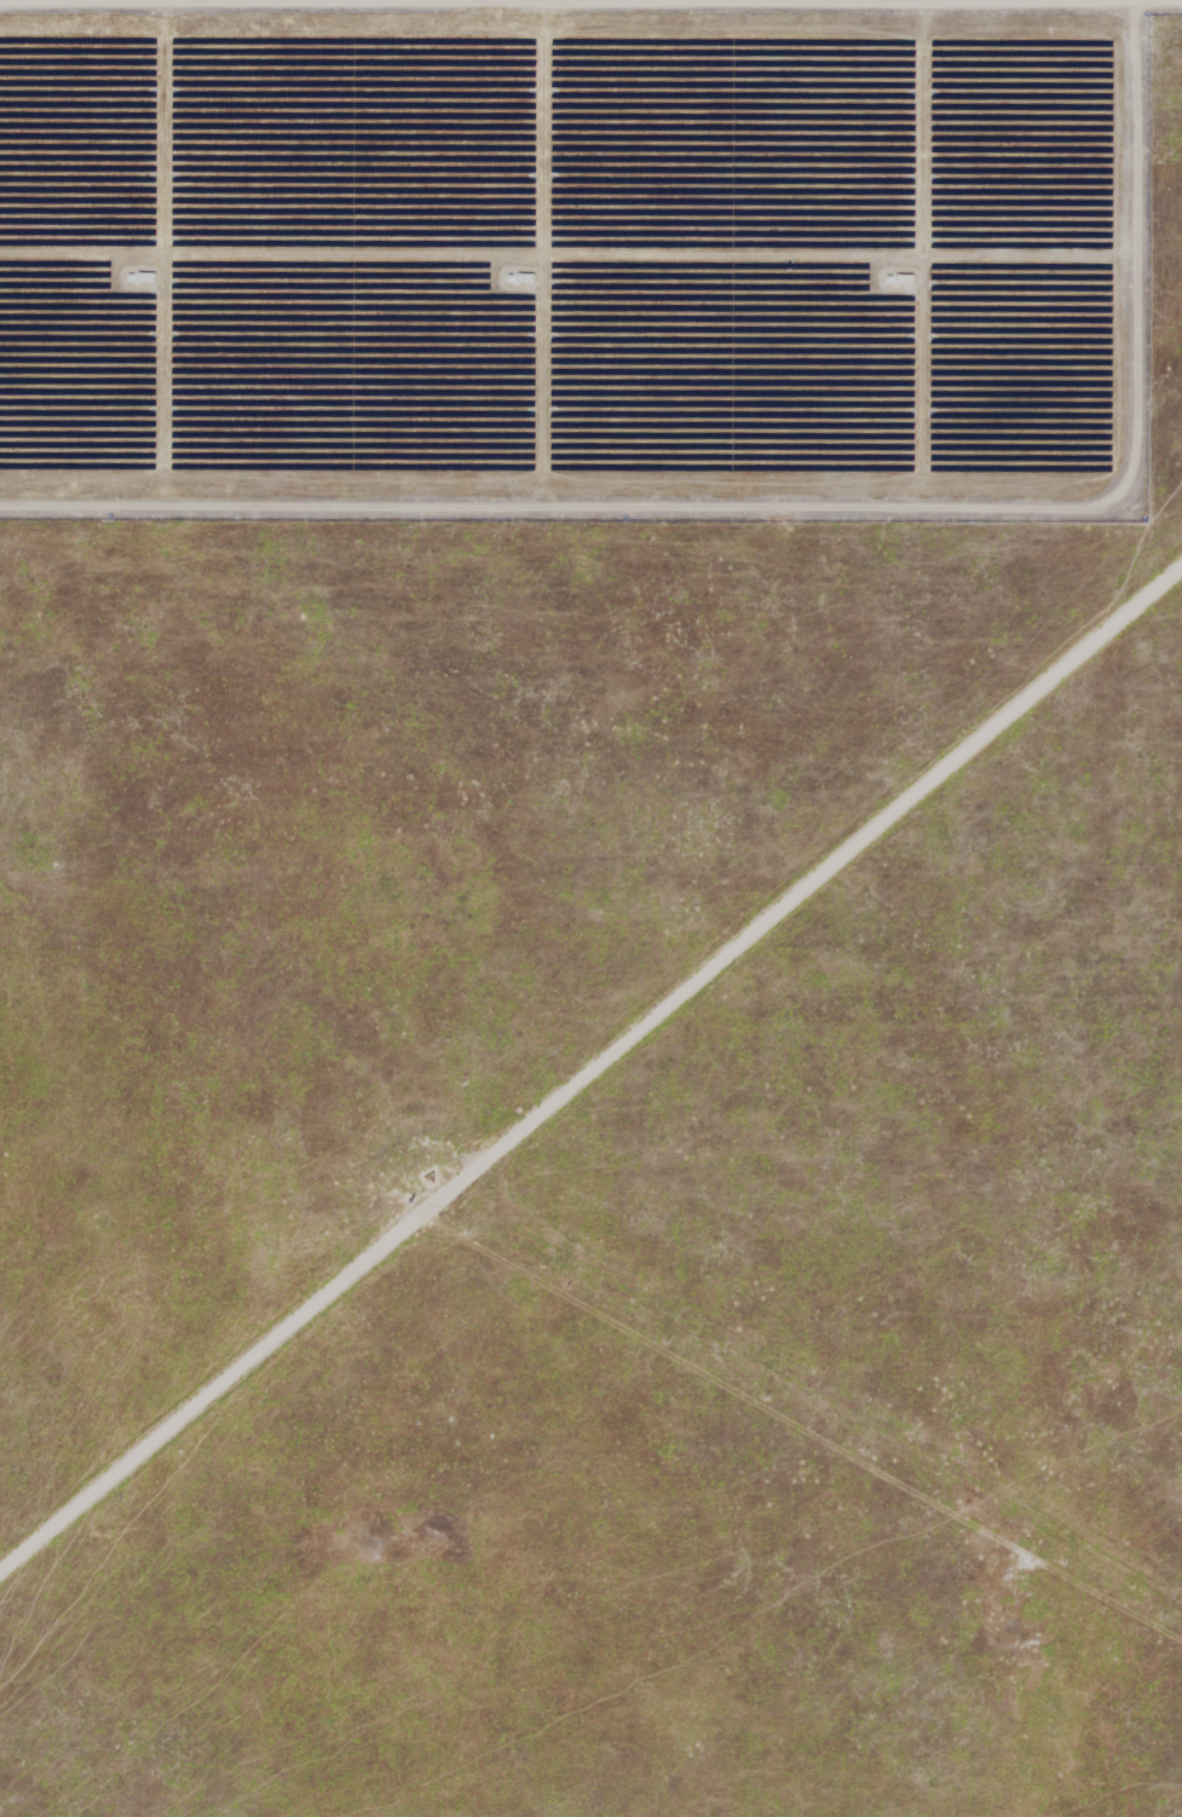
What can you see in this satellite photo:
road: (590, 79)
solar farm: (590, 909)

